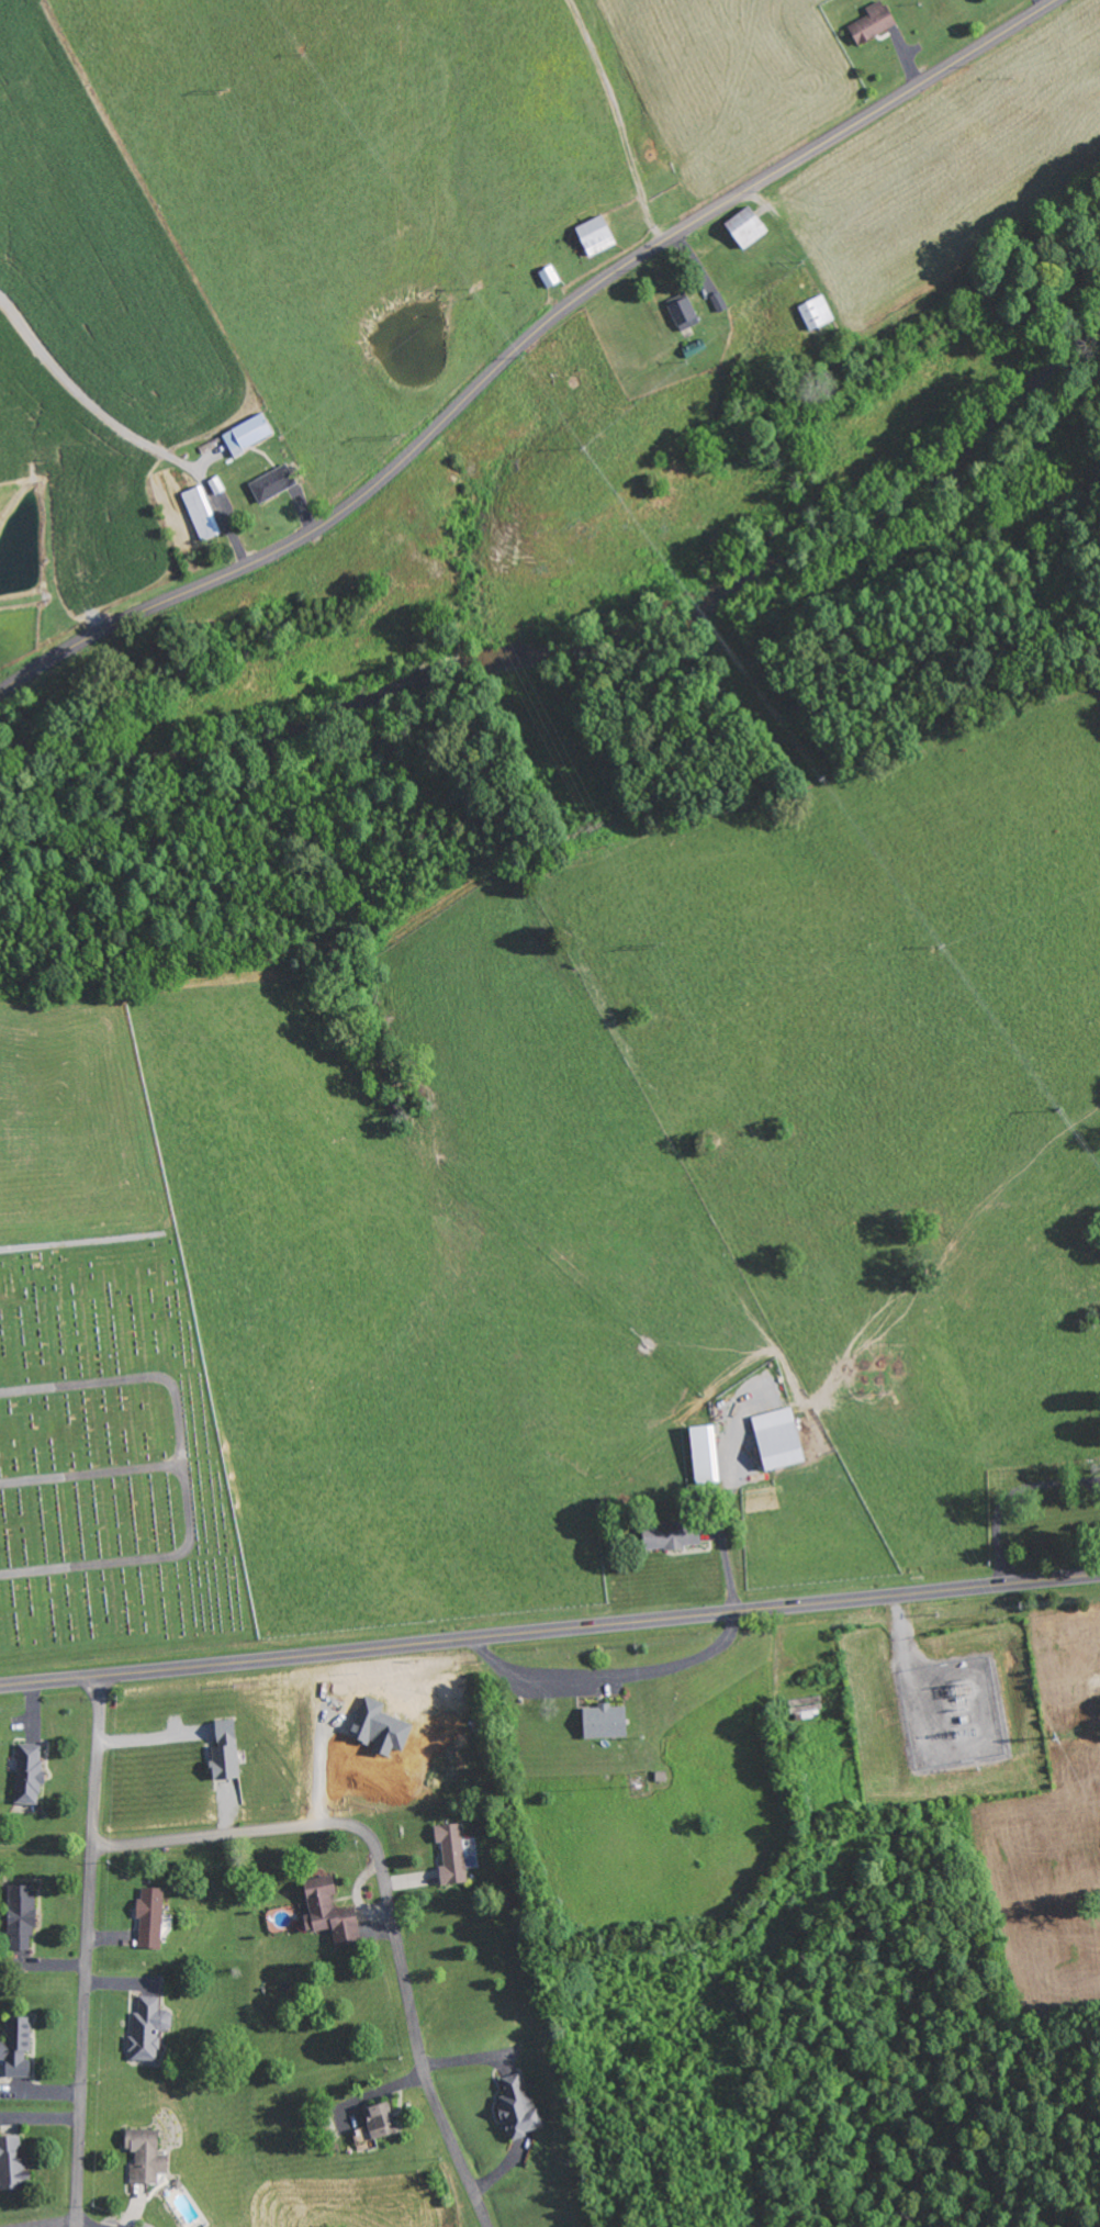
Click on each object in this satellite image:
building: (872, 22)
building: (745, 226)
building: (595, 235)
building: (816, 312)
building: (684, 313)
road: (524, 344)
building: (247, 434)
building: (272, 483)
building: (201, 513)
building: (777, 1437)
building: (704, 1453)
park: (111, 1459)
road: (187, 1475)
road: (93, 1476)
building: (672, 1534)
road: (549, 1625)
building: (807, 1706)
road: (627, 1714)
building: (604, 1721)
building: (379, 1727)
building: (224, 1750)
building: (29, 1772)
building: (451, 1853)
road: (782, 1890)
road: (384, 1896)
building: (328, 1912)
building: (21, 1914)
building: (150, 1918)
road: (85, 1950)
building: (148, 2028)
building: (16, 2047)
building: (518, 2107)
building: (378, 2122)
building: (145, 2156)
building: (12, 2162)
road: (81, 2225)

